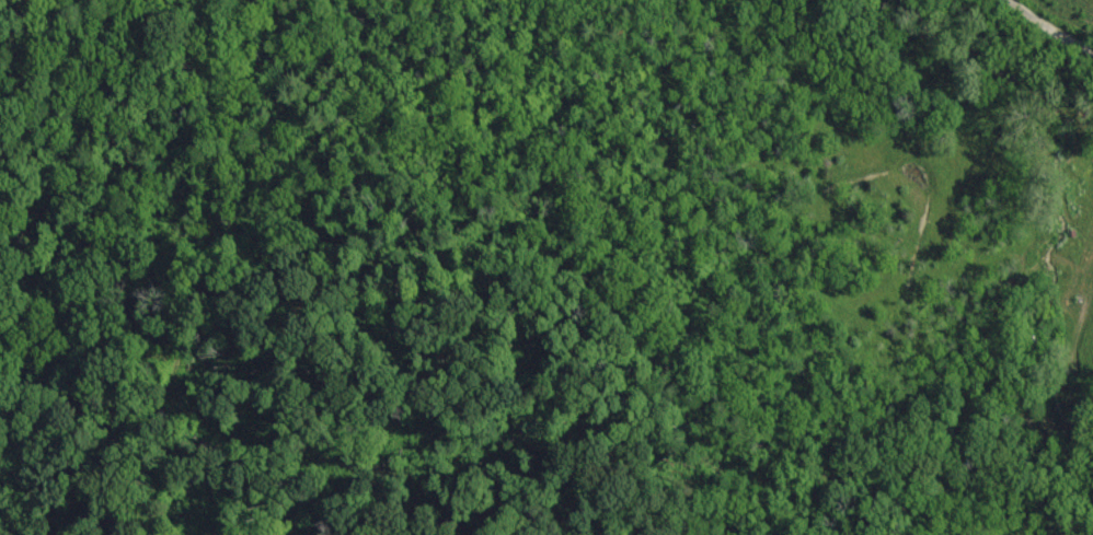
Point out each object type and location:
road: (1055, 23)

